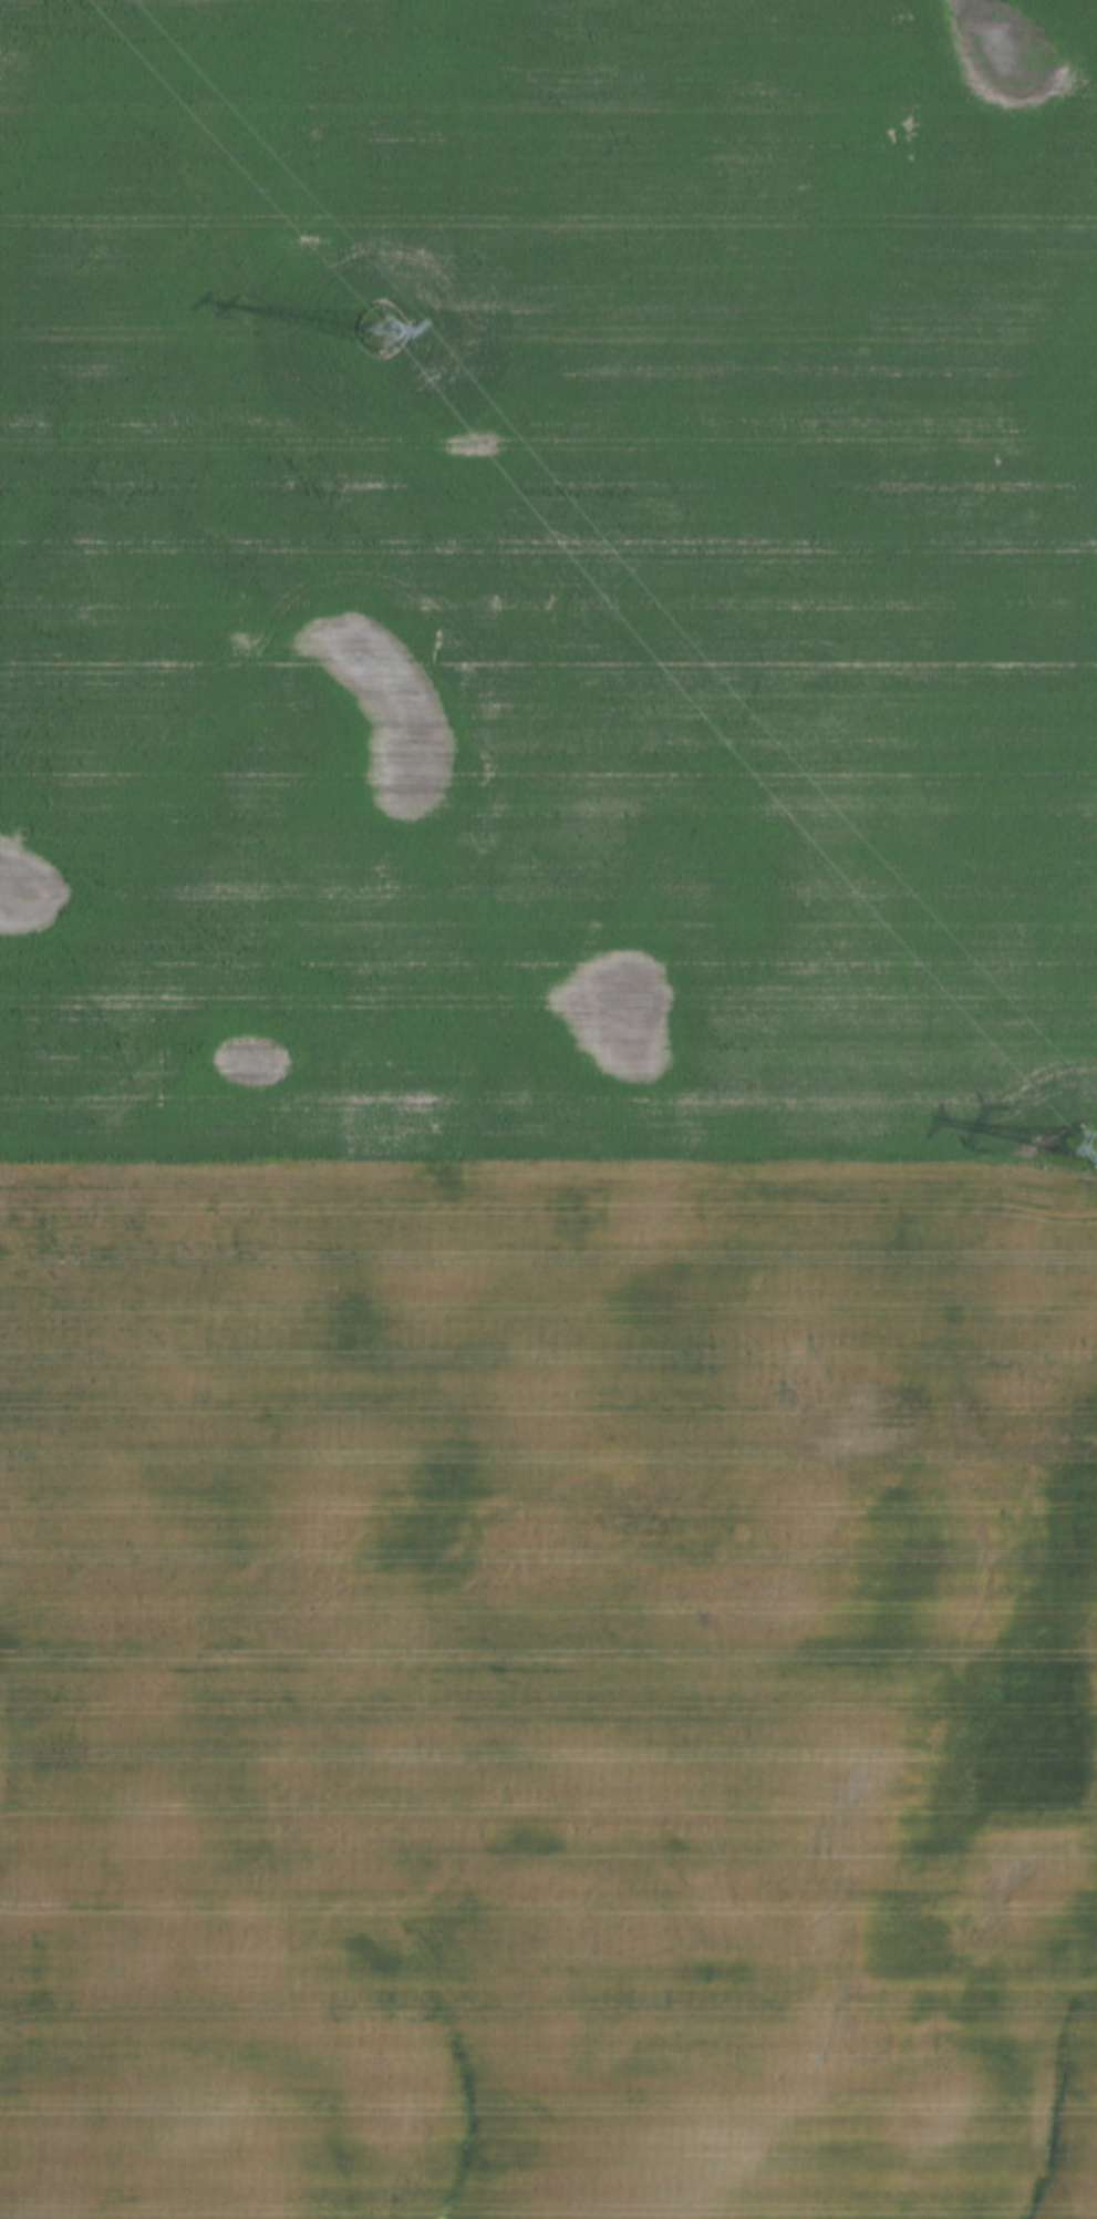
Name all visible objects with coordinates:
power tower: (384, 338)
power tower: (1090, 1148)

